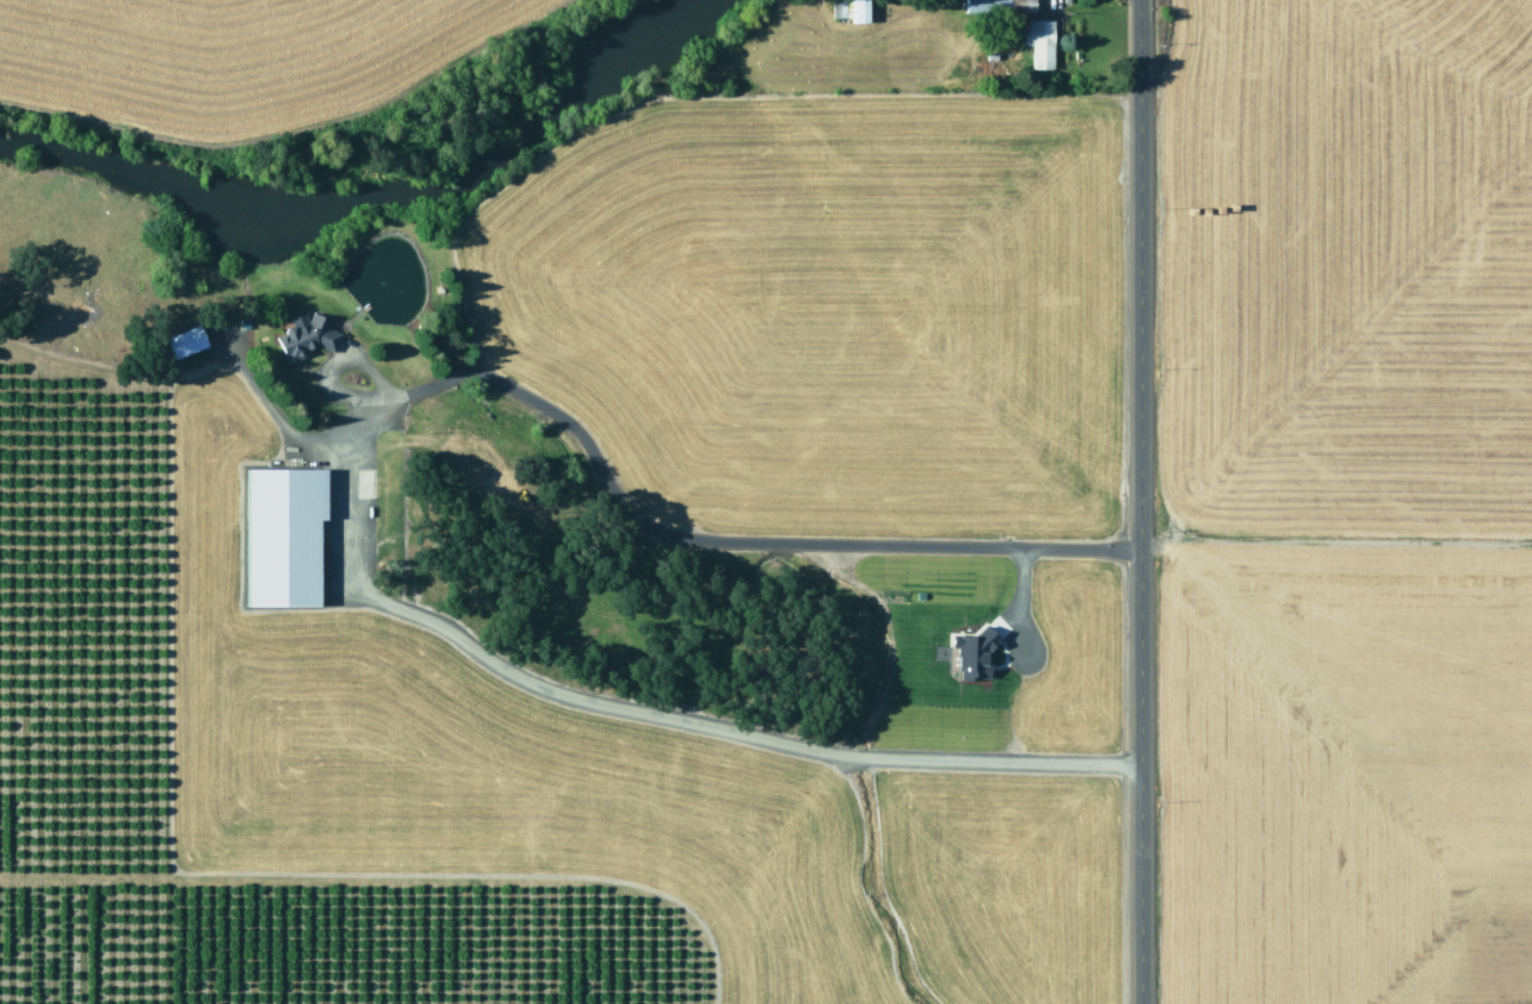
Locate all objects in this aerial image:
building: (997, 6)
building: (848, 10)
building: (1037, 42)
crop: (217, 56)
building: (303, 337)
building: (181, 341)
road: (1138, 501)
road: (653, 528)
building: (279, 535)
building: (970, 654)

